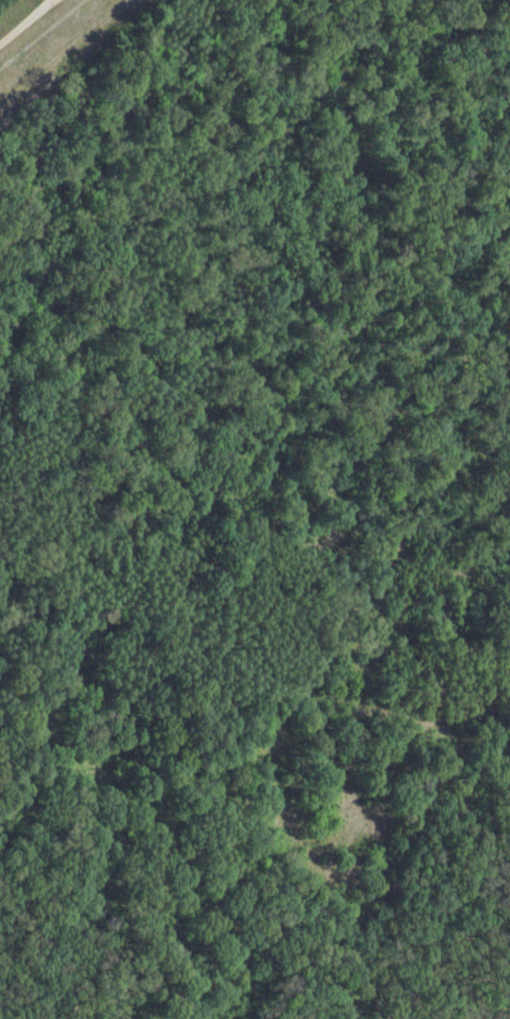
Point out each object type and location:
road: (13, 11)

